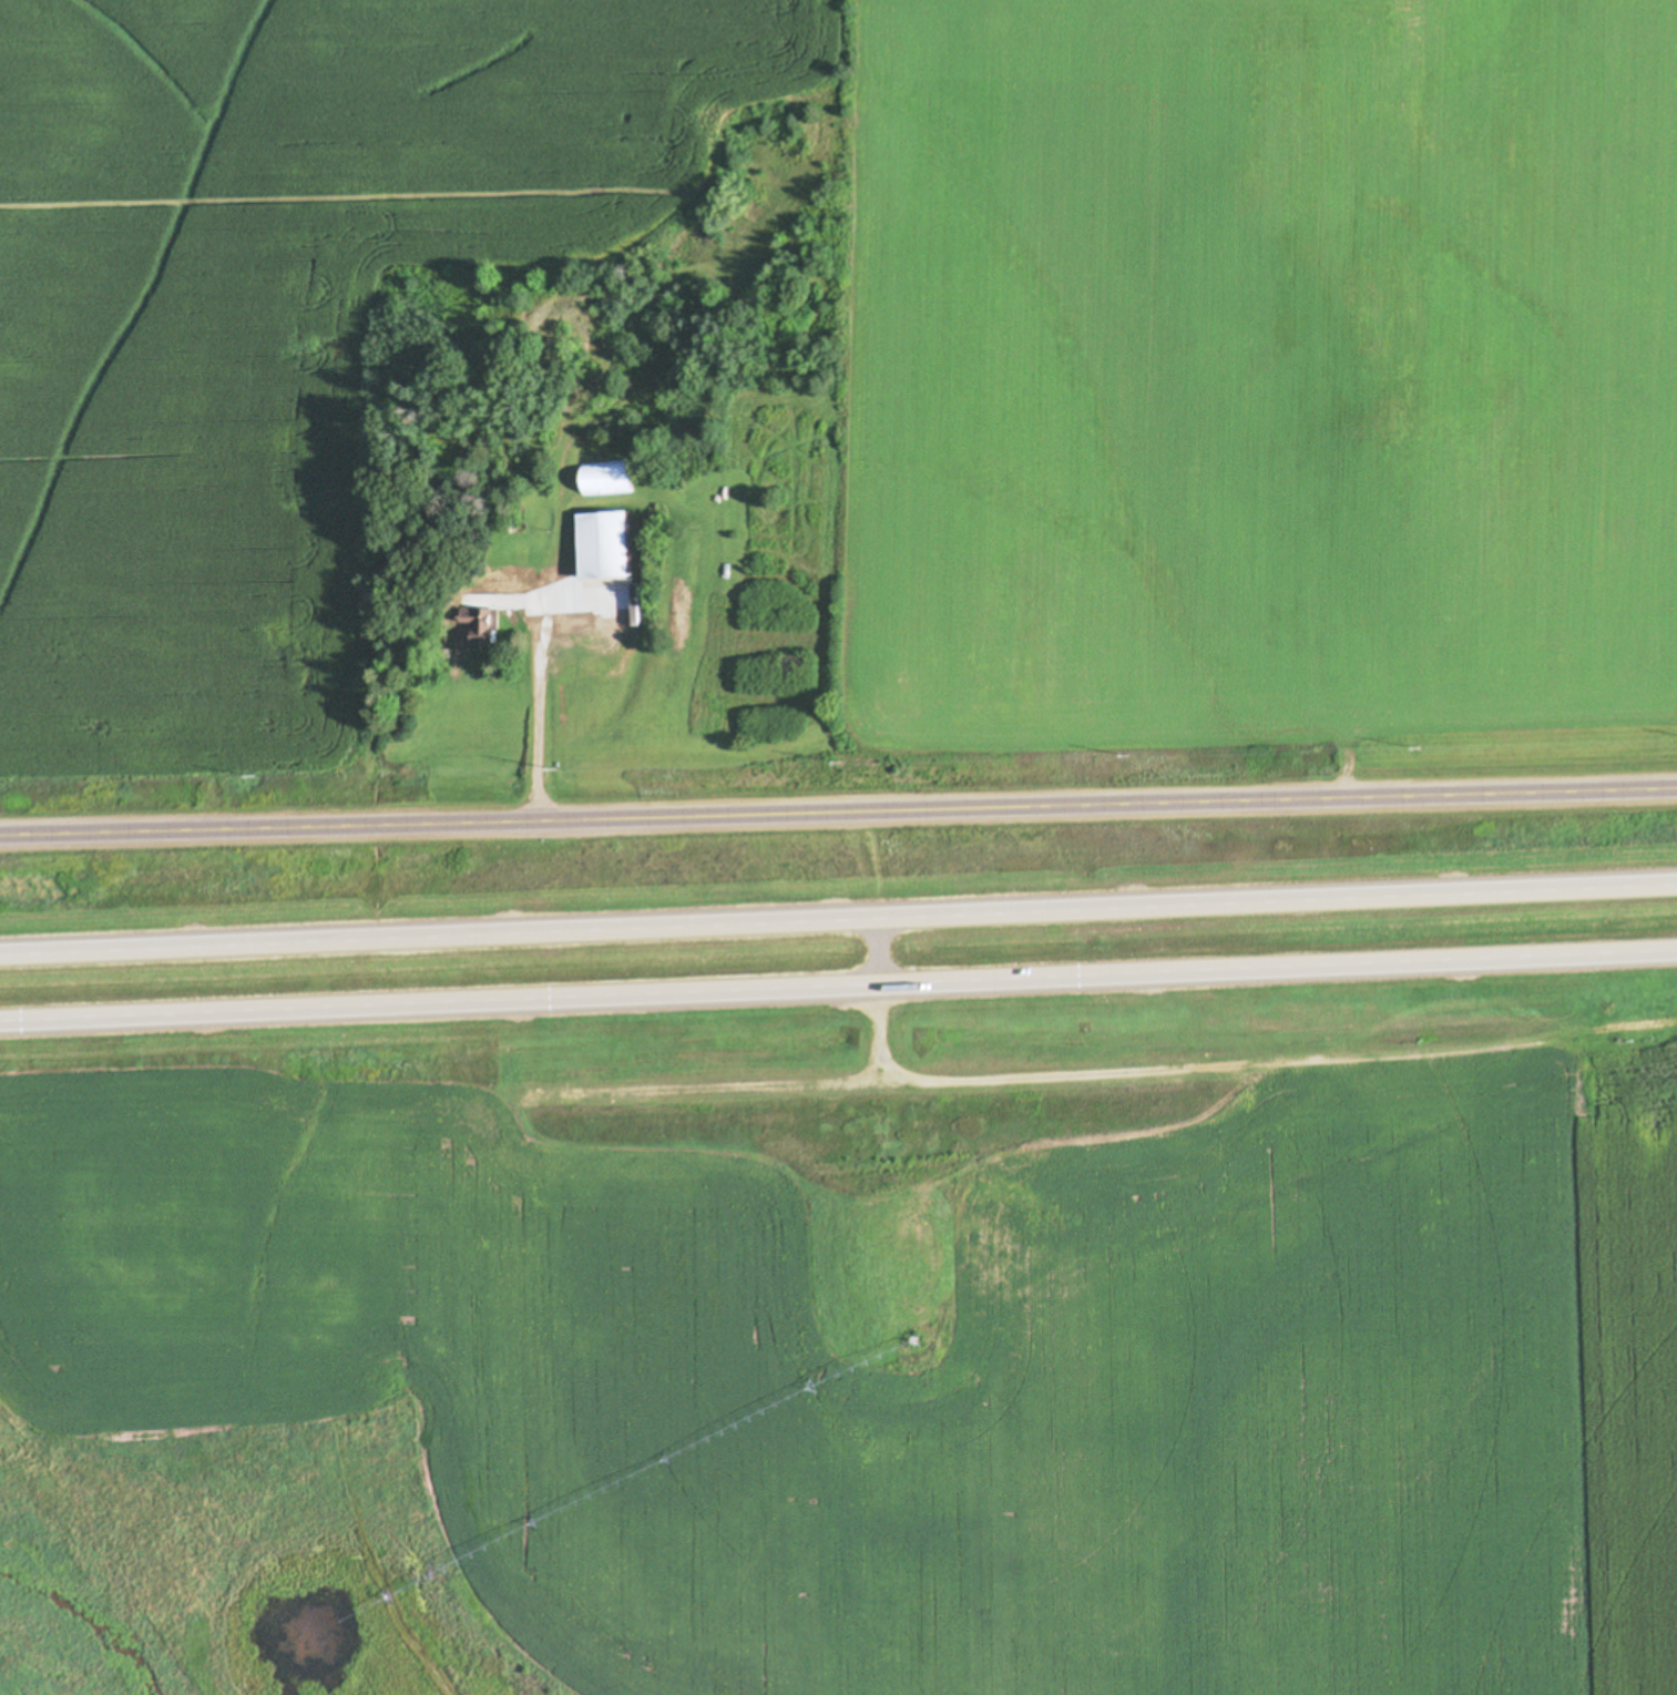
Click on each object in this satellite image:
crop: (887, 355)
building: (612, 482)
building: (609, 552)
building: (481, 624)
road: (838, 819)
building: (1669, 889)
road: (838, 908)
road: (838, 995)
crop: (924, 1350)

